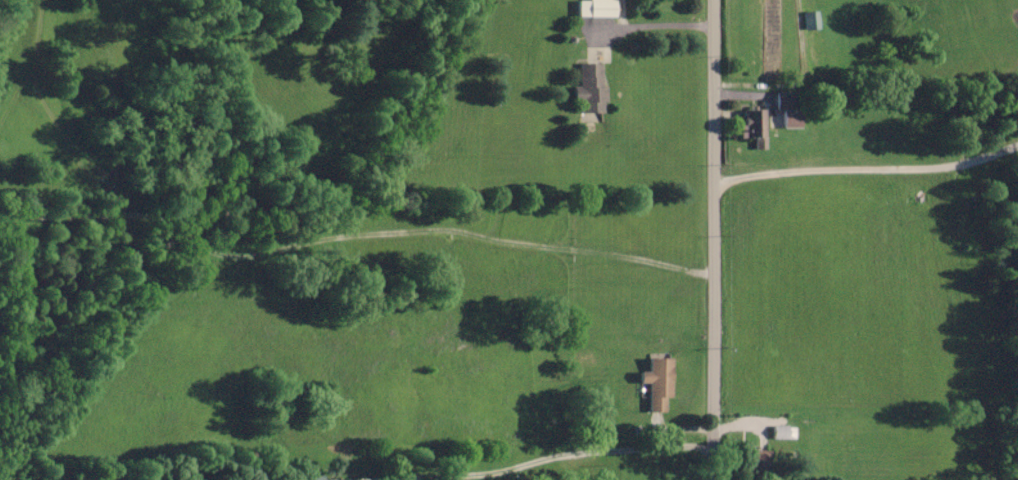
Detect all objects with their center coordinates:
building: (597, 7)
building: (593, 88)
building: (784, 99)
building: (756, 119)
road: (867, 167)
road: (713, 239)
building: (657, 381)
building: (783, 430)
road: (535, 458)
building: (755, 463)
building: (329, 479)

